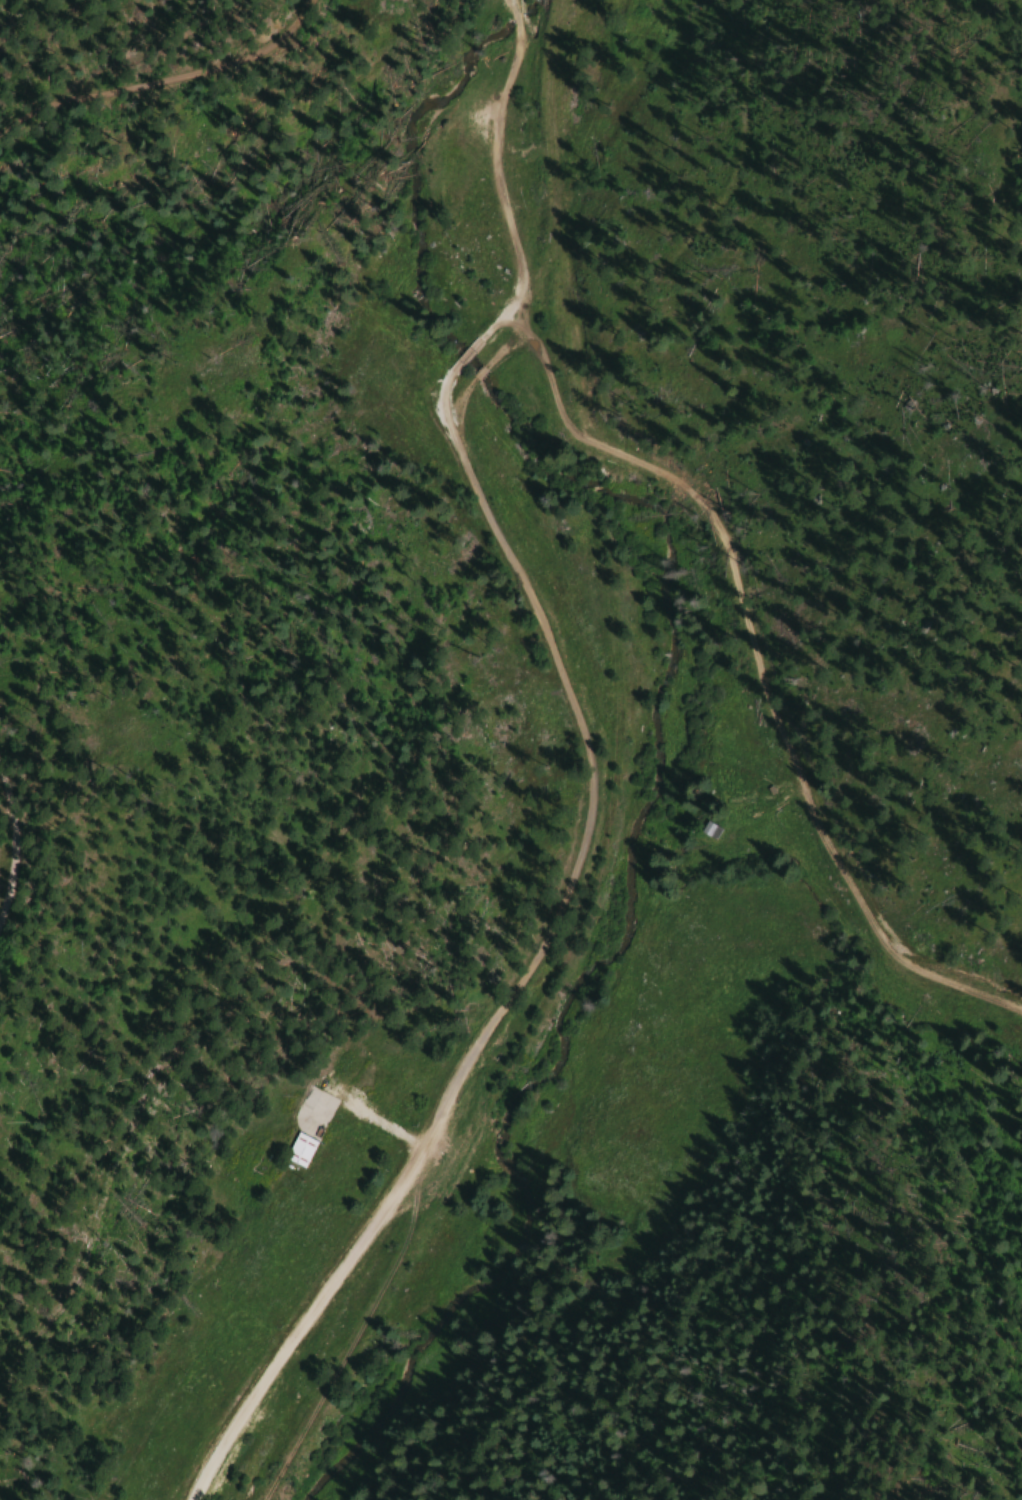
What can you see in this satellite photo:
road: (512, 6)
road: (516, 18)
road: (164, 76)
road: (508, 208)
road: (480, 381)
road: (468, 404)
road: (769, 664)
building: (710, 830)
road: (10, 837)
road: (528, 983)
building: (299, 1150)

